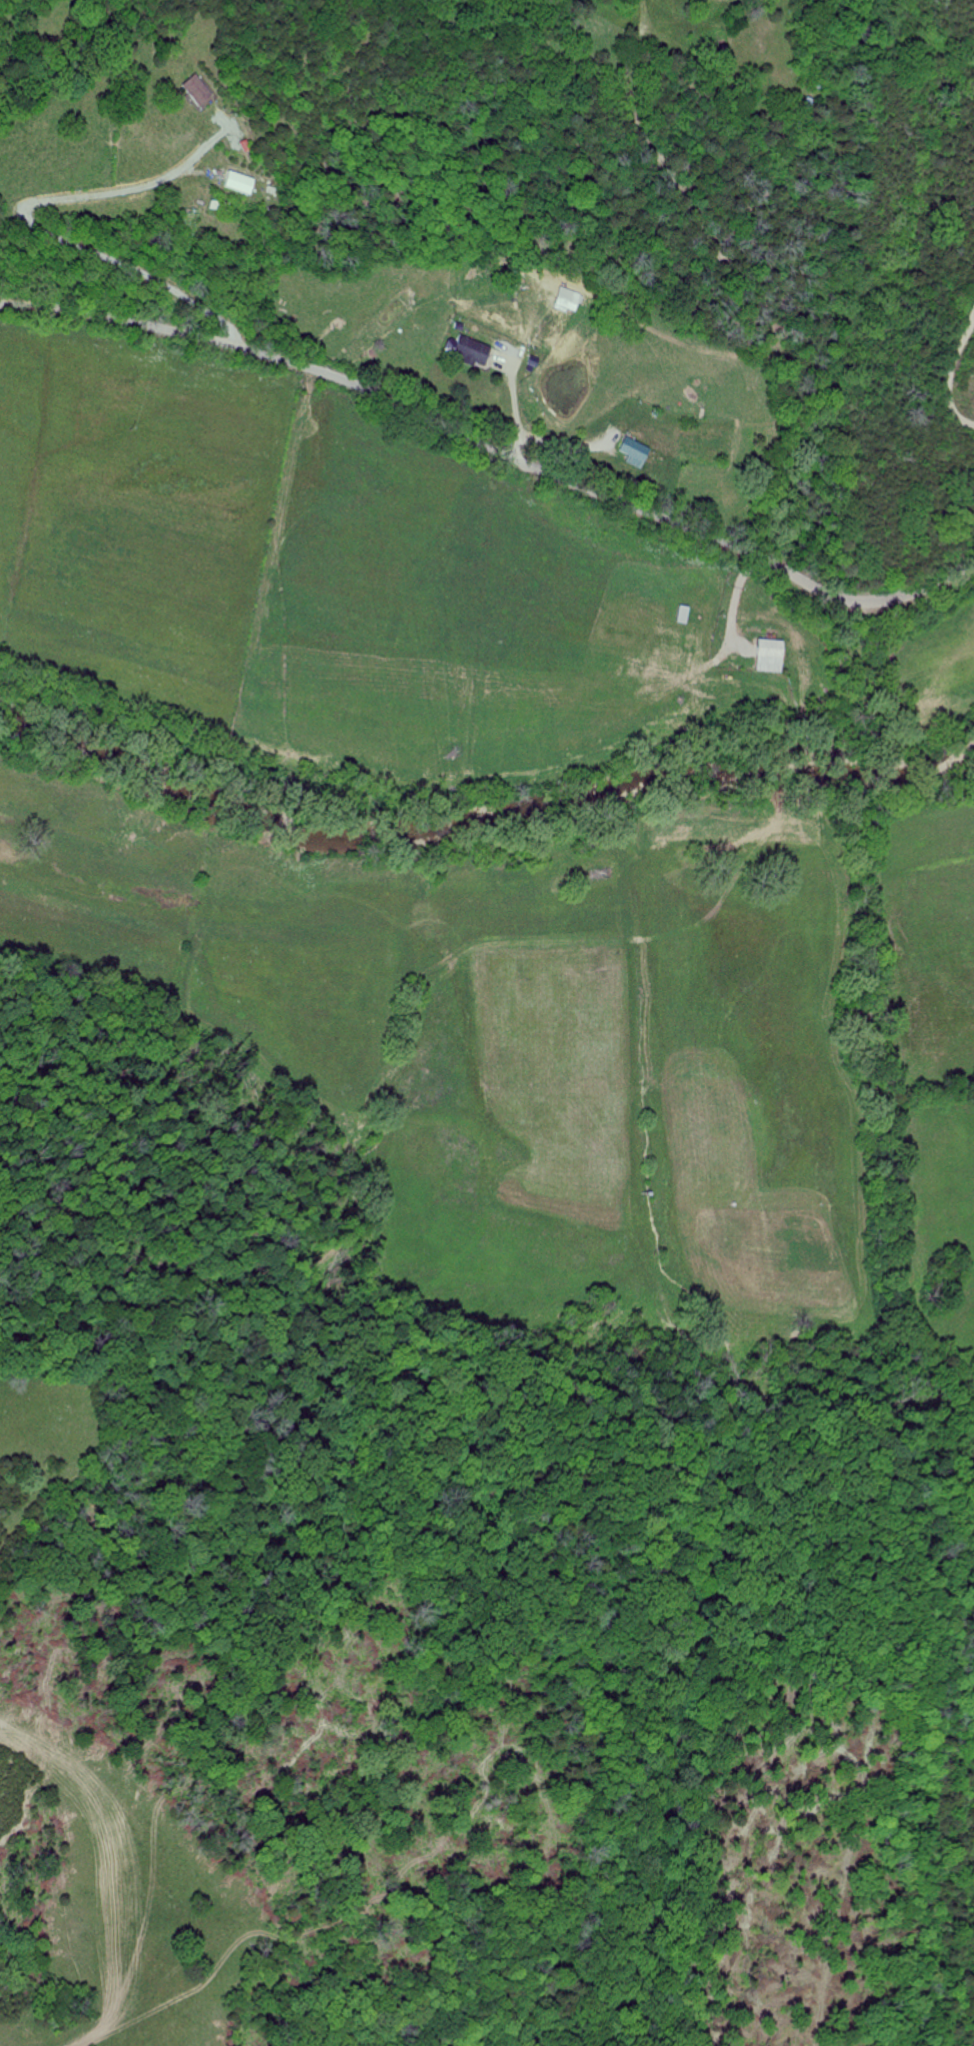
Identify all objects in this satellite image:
building: (198, 90)
building: (237, 183)
road: (31, 227)
building: (566, 300)
building: (467, 350)
road: (951, 375)
road: (493, 449)
building: (631, 451)
building: (766, 655)

